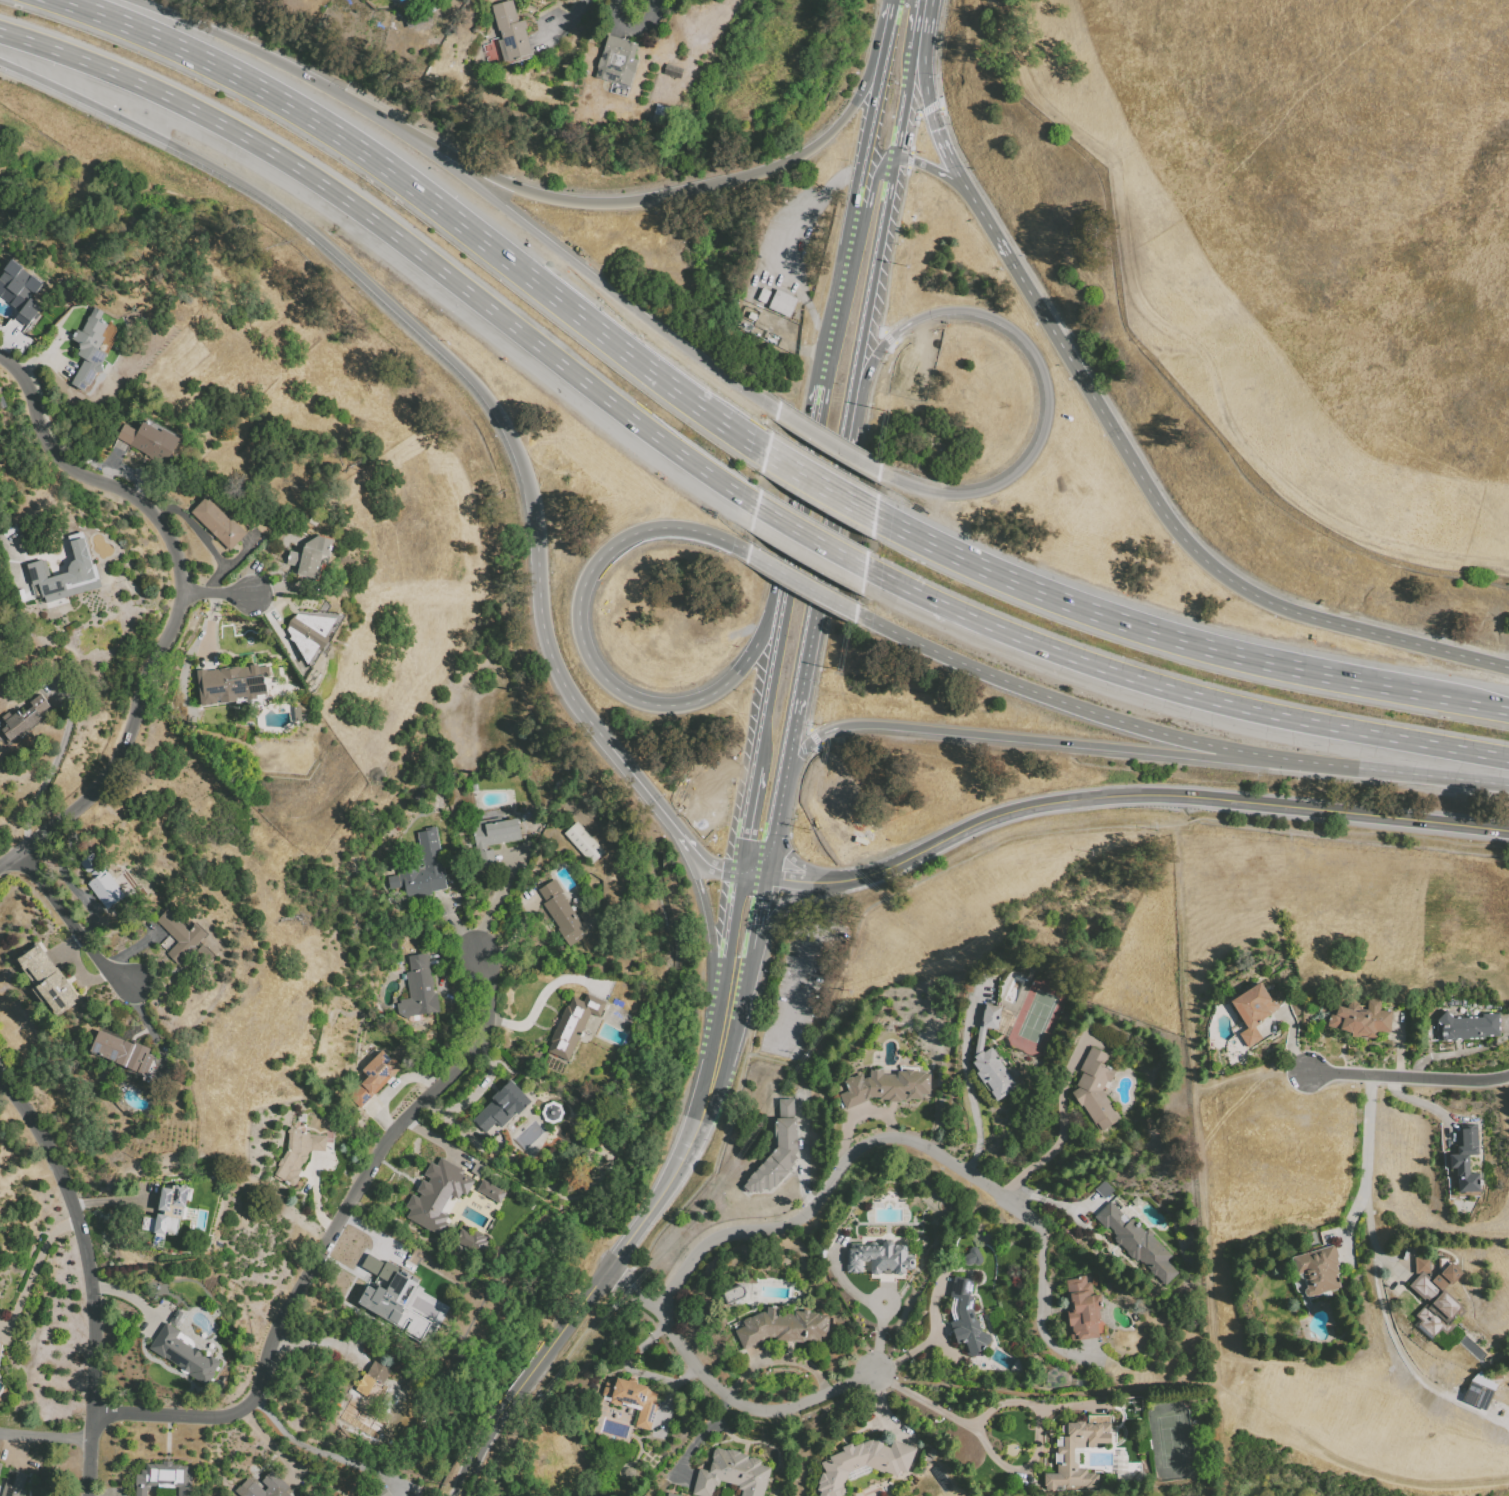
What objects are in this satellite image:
building: (416, 17)
road: (919, 19)
road: (564, 23)
road: (630, 27)
building: (507, 37)
building: (617, 64)
building: (673, 71)
road: (879, 87)
road: (928, 96)
road: (906, 98)
building: (664, 116)
road: (931, 168)
road: (472, 182)
road: (674, 191)
road: (872, 197)
road: (430, 200)
road: (859, 208)
road: (399, 238)
road: (347, 262)
building: (14, 278)
road: (874, 282)
building: (783, 303)
building: (21, 321)
road: (1056, 335)
building: (88, 347)
road: (1037, 368)
road: (820, 404)
building: (125, 434)
building: (155, 439)
road: (830, 444)
building: (113, 463)
road: (87, 478)
road: (823, 485)
building: (217, 524)
road: (814, 538)
road: (11, 558)
building: (310, 558)
road: (823, 560)
building: (68, 572)
road: (782, 579)
road: (803, 584)
road: (214, 593)
road: (786, 606)
road: (1304, 616)
road: (1138, 627)
building: (310, 632)
road: (590, 655)
road: (557, 665)
building: (229, 685)
road: (773, 691)
road: (1178, 691)
road: (1463, 700)
building: (23, 719)
road: (793, 723)
road: (1172, 736)
road: (604, 737)
road: (1039, 741)
road: (118, 748)
road: (764, 750)
road: (787, 756)
road: (53, 763)
road: (645, 789)
road: (1222, 800)
road: (752, 818)
road: (1195, 819)
road: (773, 829)
road: (1075, 829)
road: (1355, 833)
building: (491, 838)
building: (583, 843)
road: (790, 855)
road: (705, 860)
road: (890, 866)
building: (421, 873)
road: (753, 875)
road: (799, 882)
building: (103, 884)
road: (497, 901)
road: (784, 904)
building: (562, 910)
road: (709, 910)
road: (756, 911)
road: (66, 924)
road: (732, 932)
building: (177, 938)
road: (845, 964)
road: (806, 966)
road: (740, 969)
building: (47, 978)
parking lot: (801, 981)
building: (418, 990)
road: (540, 996)
building: (1252, 1010)
park: (1036, 1015)
building: (1360, 1019)
building: (572, 1024)
building: (1467, 1025)
road: (1290, 1033)
road: (763, 1048)
road: (1398, 1050)
building: (120, 1051)
road: (718, 1052)
building: (989, 1052)
building: (374, 1076)
road: (1249, 1077)
road: (1409, 1077)
building: (887, 1086)
building: (1094, 1089)
road: (968, 1091)
road: (1417, 1101)
road: (1195, 1104)
building: (500, 1107)
road: (855, 1114)
road: (1061, 1123)
road: (1367, 1137)
building: (777, 1148)
building: (298, 1151)
building: (1466, 1161)
road: (804, 1170)
road: (839, 1171)
road: (709, 1173)
road: (1013, 1182)
building: (490, 1190)
road: (660, 1192)
building: (436, 1194)
road: (1045, 1200)
building: (167, 1212)
road: (1352, 1219)
road: (322, 1239)
building: (470, 1240)
building: (1140, 1245)
building: (972, 1256)
building: (881, 1257)
building: (1317, 1269)
road: (33, 1271)
road: (87, 1275)
road: (619, 1280)
road: (844, 1285)
building: (1435, 1293)
road: (128, 1295)
building: (391, 1297)
building: (1080, 1307)
road: (1042, 1308)
building: (965, 1316)
building: (778, 1326)
road: (878, 1334)
road: (934, 1338)
road: (1397, 1339)
building: (0, 1344)
building: (183, 1353)
road: (774, 1357)
road: (623, 1361)
road: (528, 1379)
building: (1480, 1388)
road: (548, 1390)
road: (668, 1393)
road: (722, 1393)
road: (1051, 1393)
building: (366, 1397)
building: (631, 1400)
road: (1015, 1401)
road: (878, 1406)
road: (567, 1424)
road: (700, 1434)
road: (44, 1437)
park: (1169, 1441)
road: (270, 1444)
road: (308, 1451)
road: (795, 1451)
building: (1063, 1457)
road: (1351, 1460)
building: (861, 1462)
building: (0, 1463)
building: (731, 1473)
building: (164, 1477)
building: (15, 1483)
building: (275, 1484)
building: (378, 1491)
building: (670, 1494)

